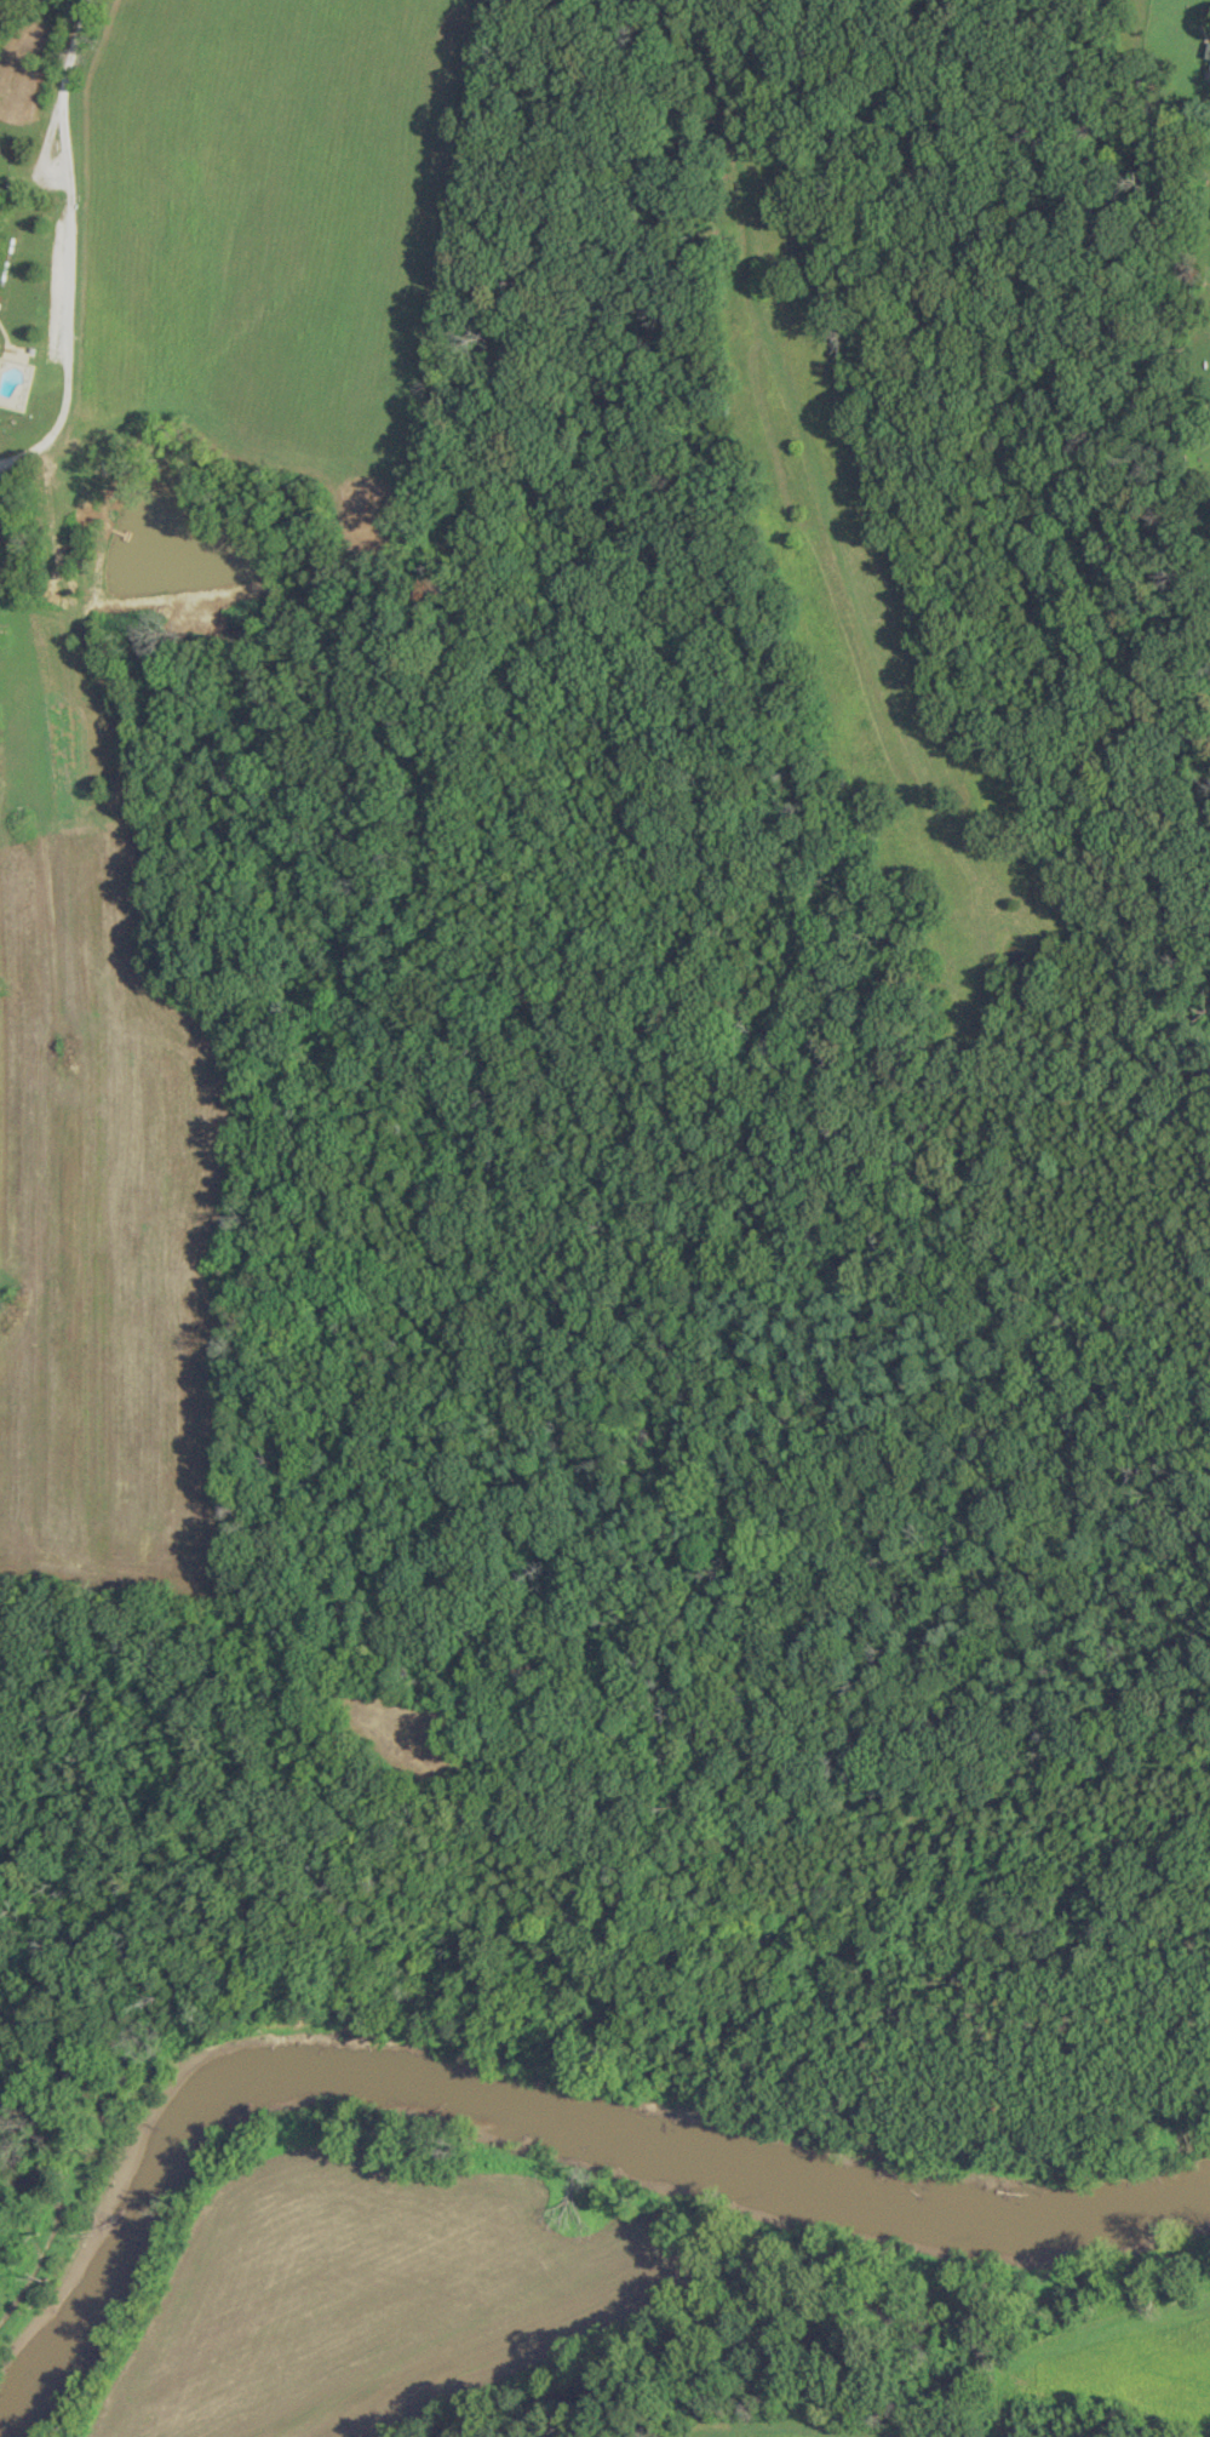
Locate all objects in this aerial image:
building: (1208, 47)
road: (68, 86)
road: (65, 315)

